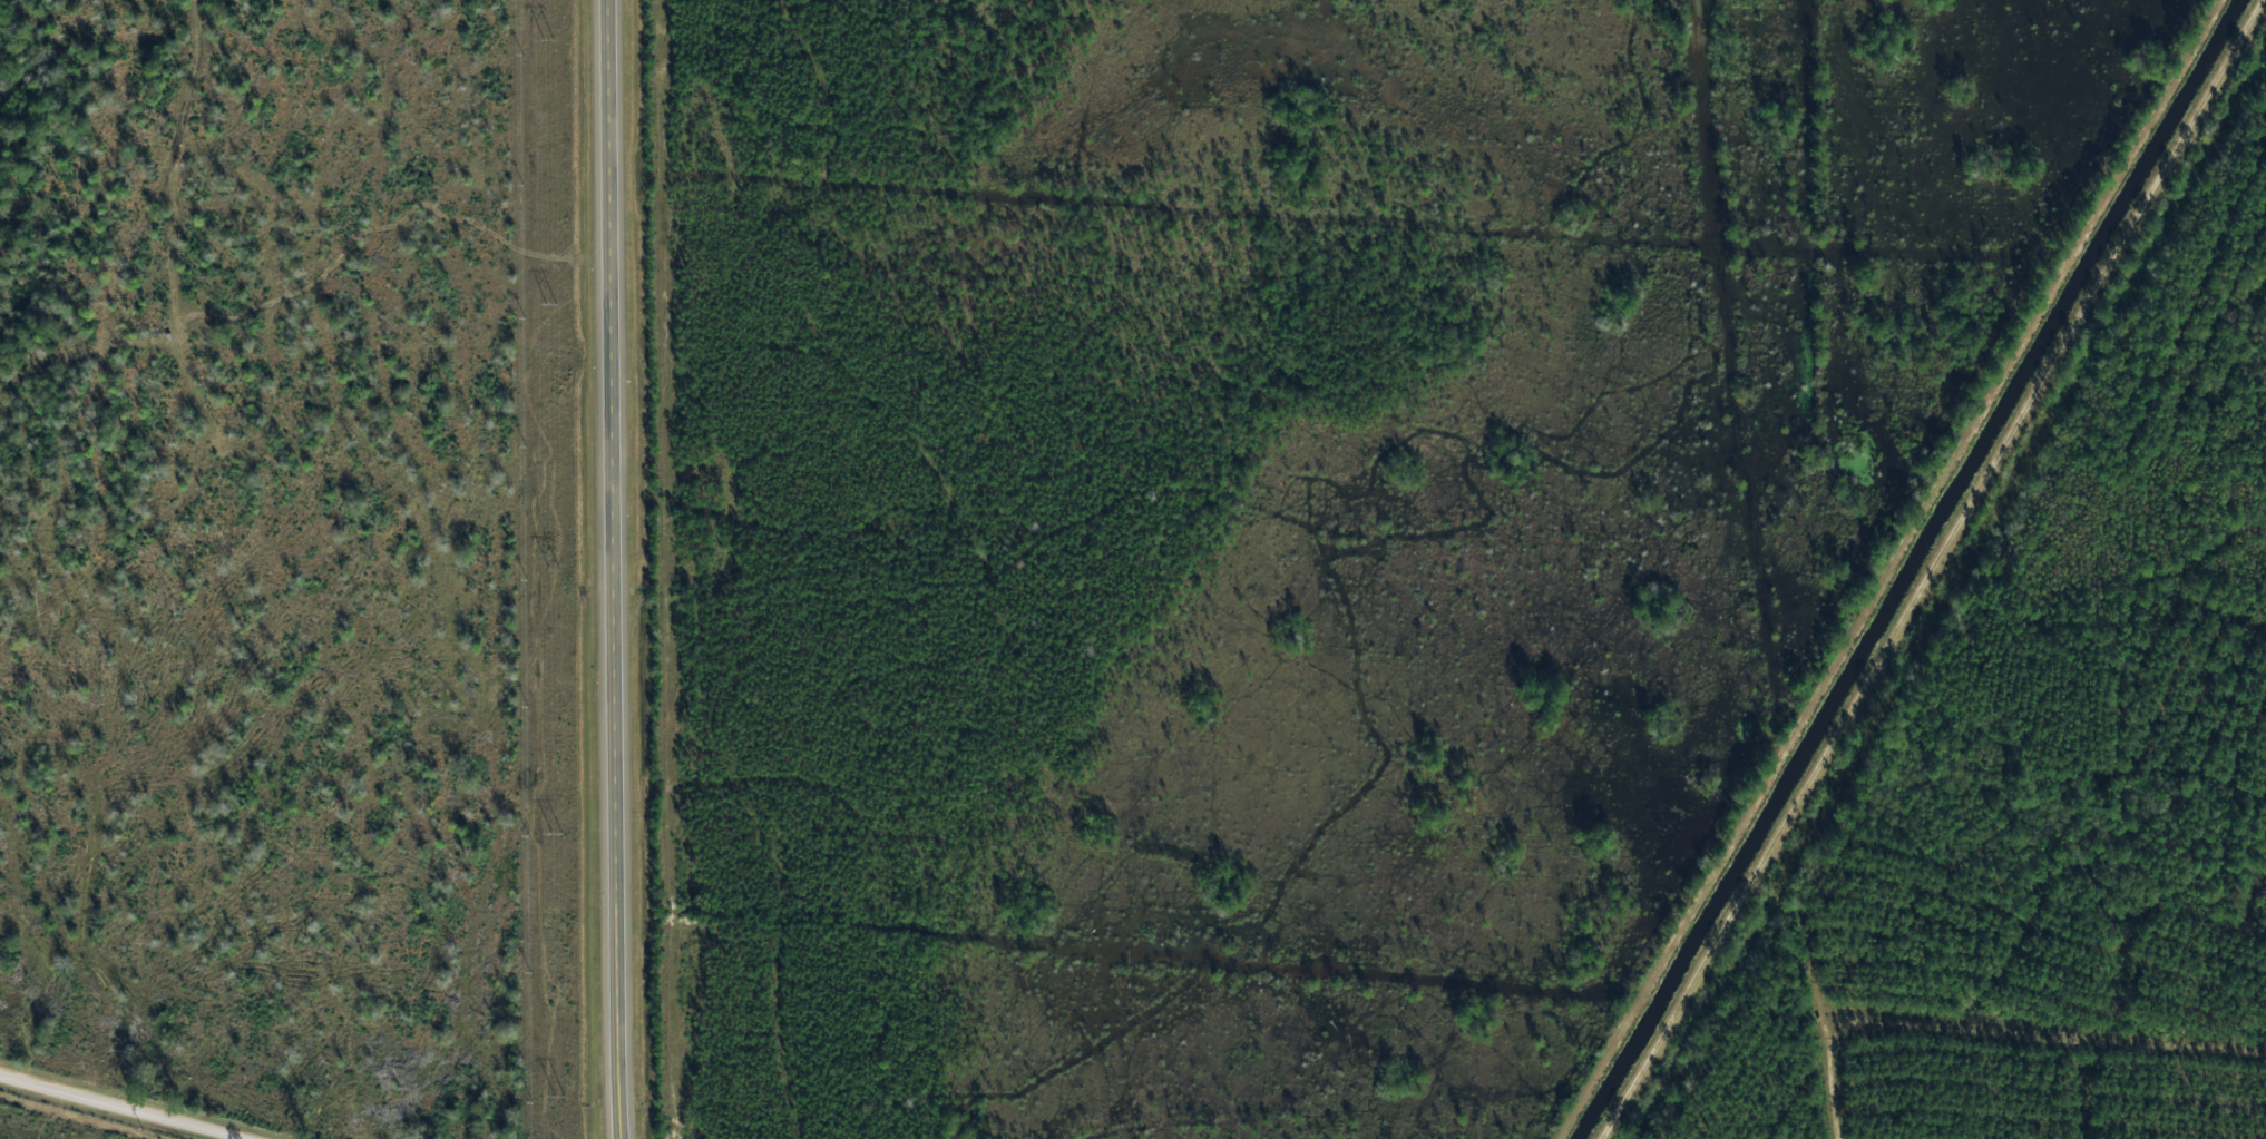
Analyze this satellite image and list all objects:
road: (613, 569)
road: (160, 1096)

